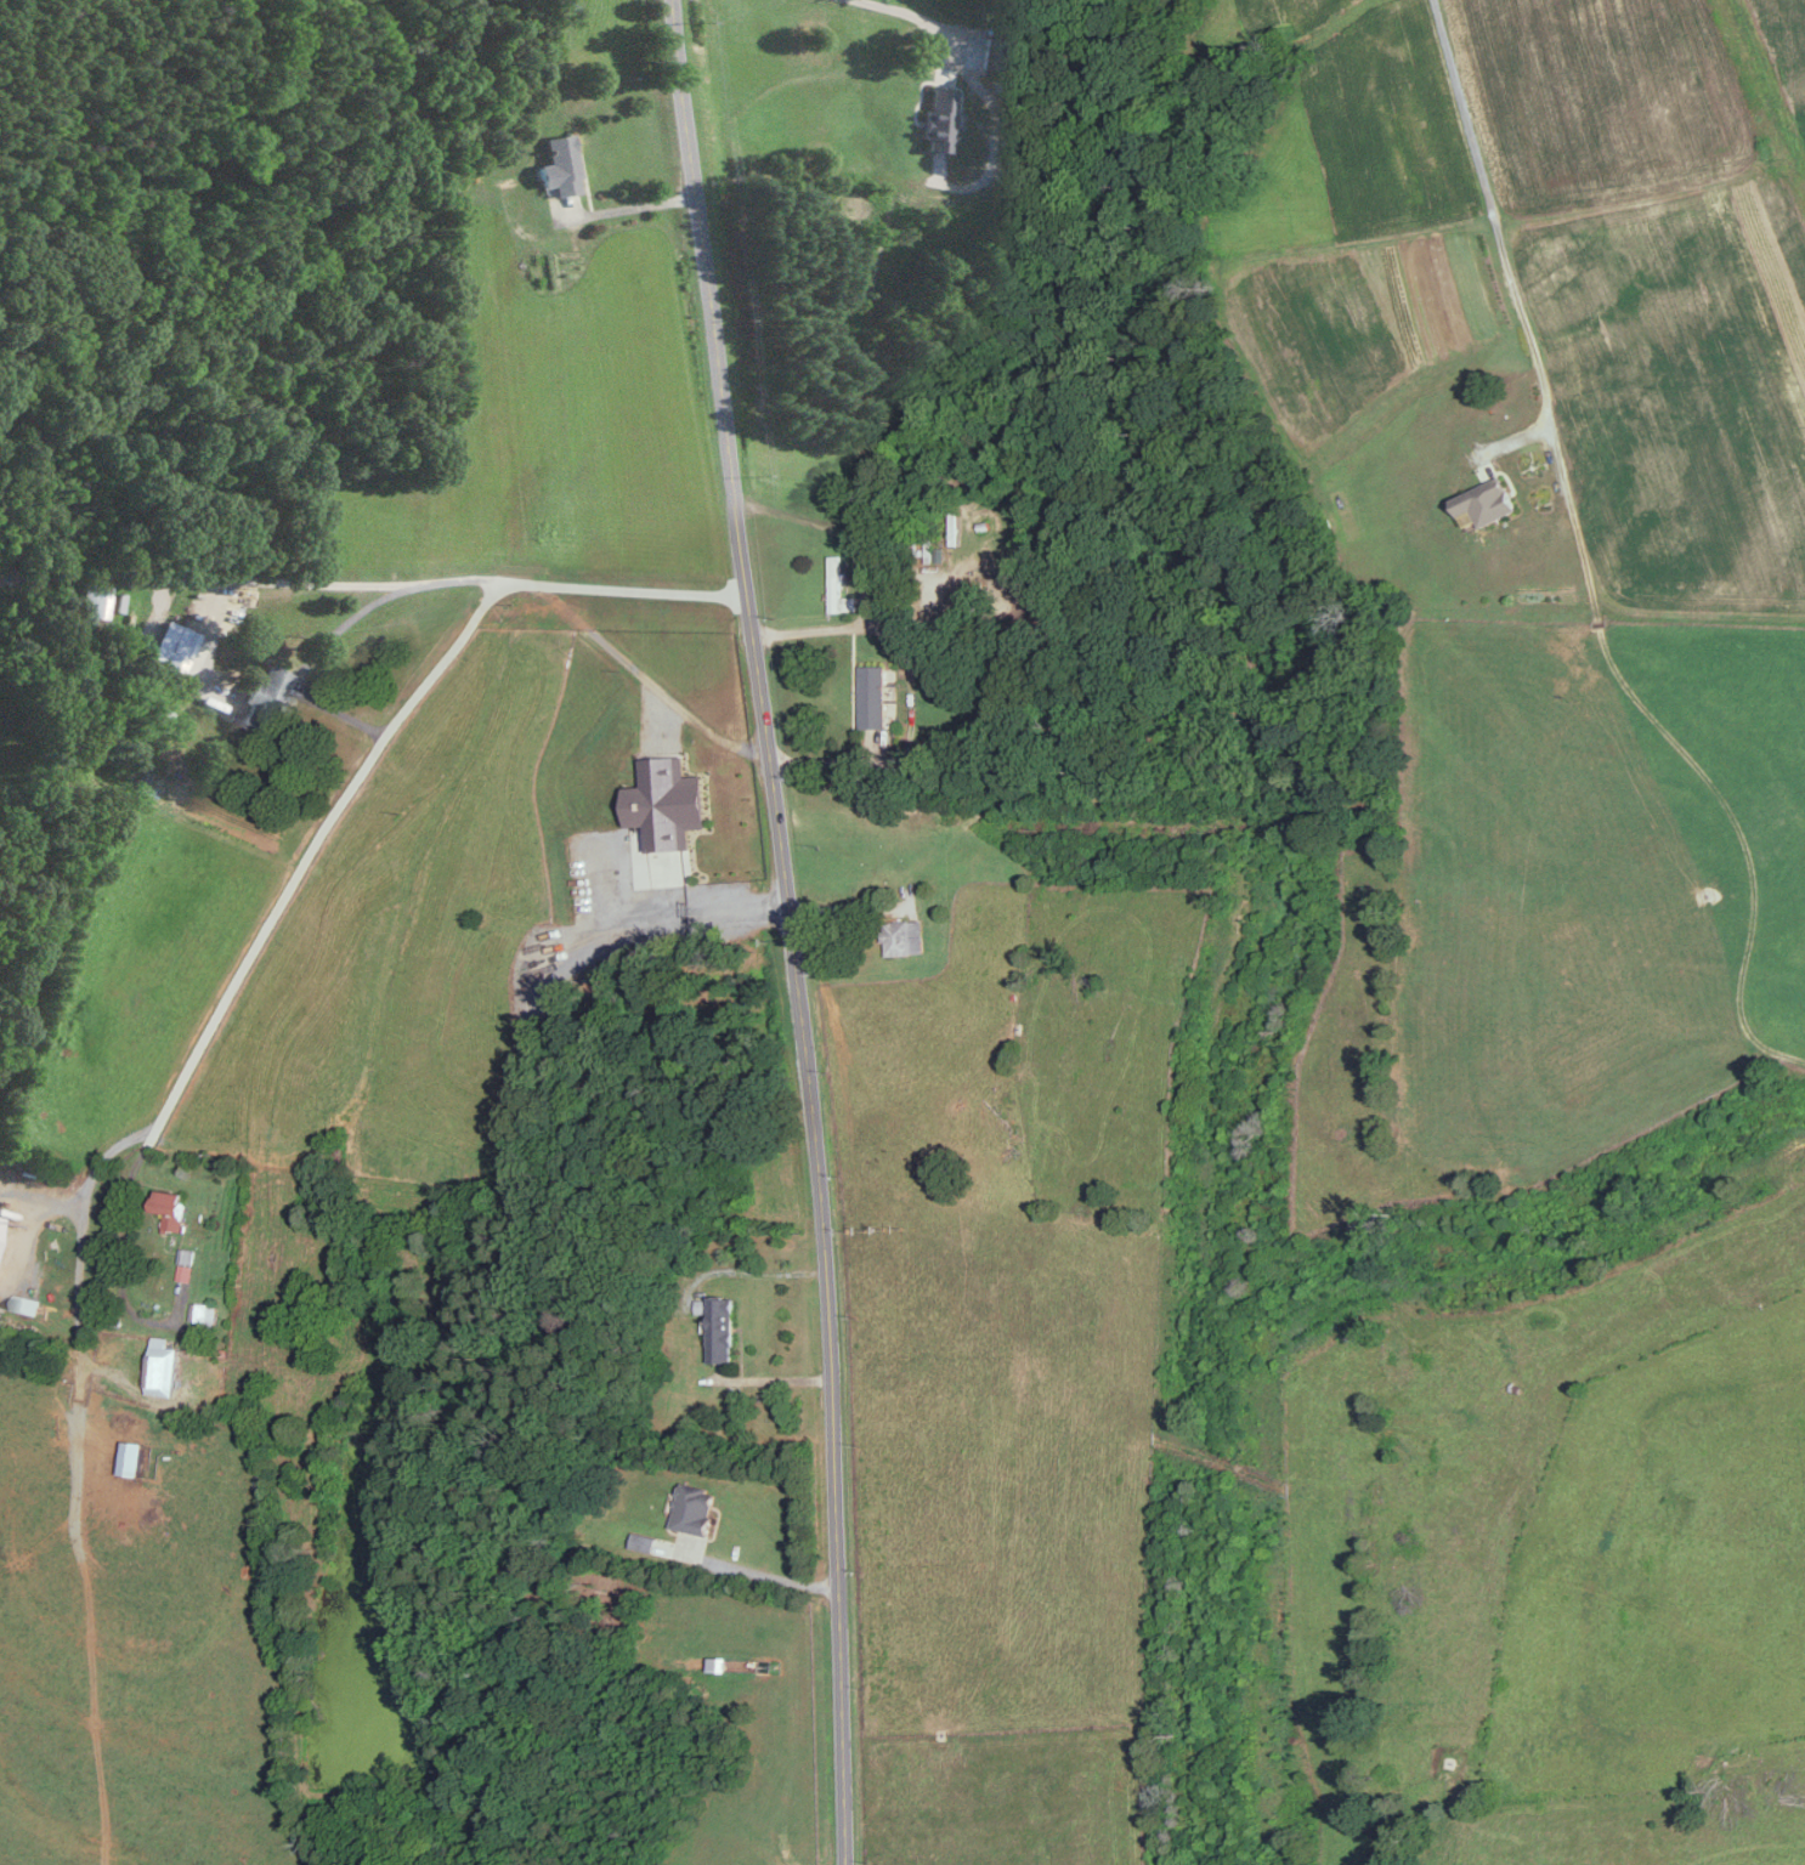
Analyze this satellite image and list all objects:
road: (920, 17)
building: (991, 50)
building: (938, 119)
building: (560, 164)
road: (636, 204)
road: (1494, 217)
building: (1489, 500)
road: (836, 531)
road: (253, 573)
building: (839, 586)
road: (639, 589)
building: (94, 599)
building: (171, 650)
road: (323, 652)
road: (910, 691)
building: (875, 696)
building: (264, 697)
road: (407, 710)
building: (668, 803)
road: (849, 906)
road: (700, 913)
road: (791, 929)
building: (905, 936)
building: (171, 1208)
building: (0, 1219)
road: (34, 1228)
road: (79, 1238)
road: (121, 1258)
building: (186, 1264)
road: (747, 1271)
building: (28, 1304)
building: (722, 1330)
building: (162, 1366)
road: (770, 1377)
building: (131, 1458)
building: (695, 1509)
road: (770, 1574)

